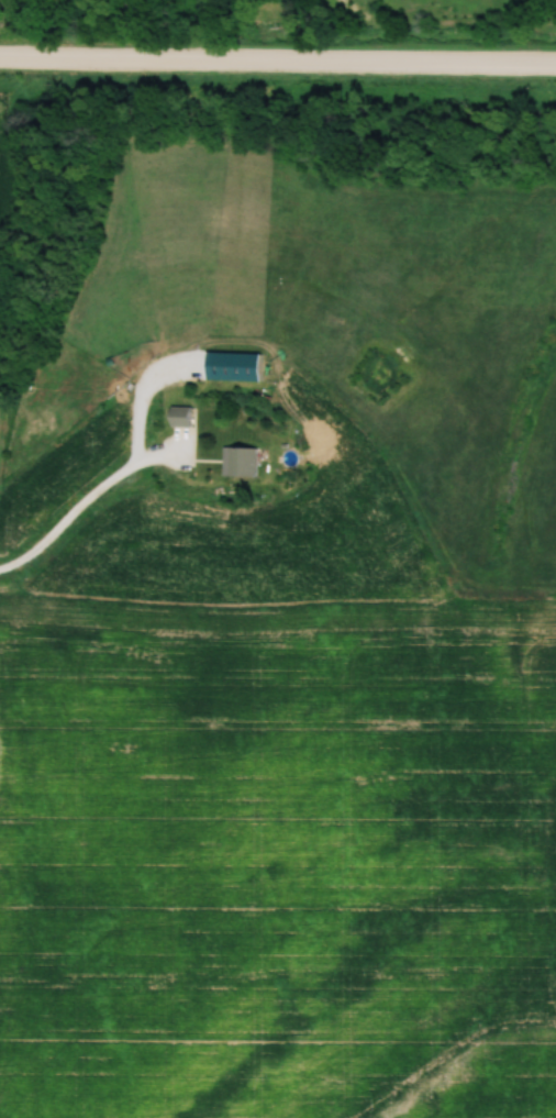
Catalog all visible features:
road: (278, 62)
building: (178, 417)
building: (237, 463)
road: (87, 502)

